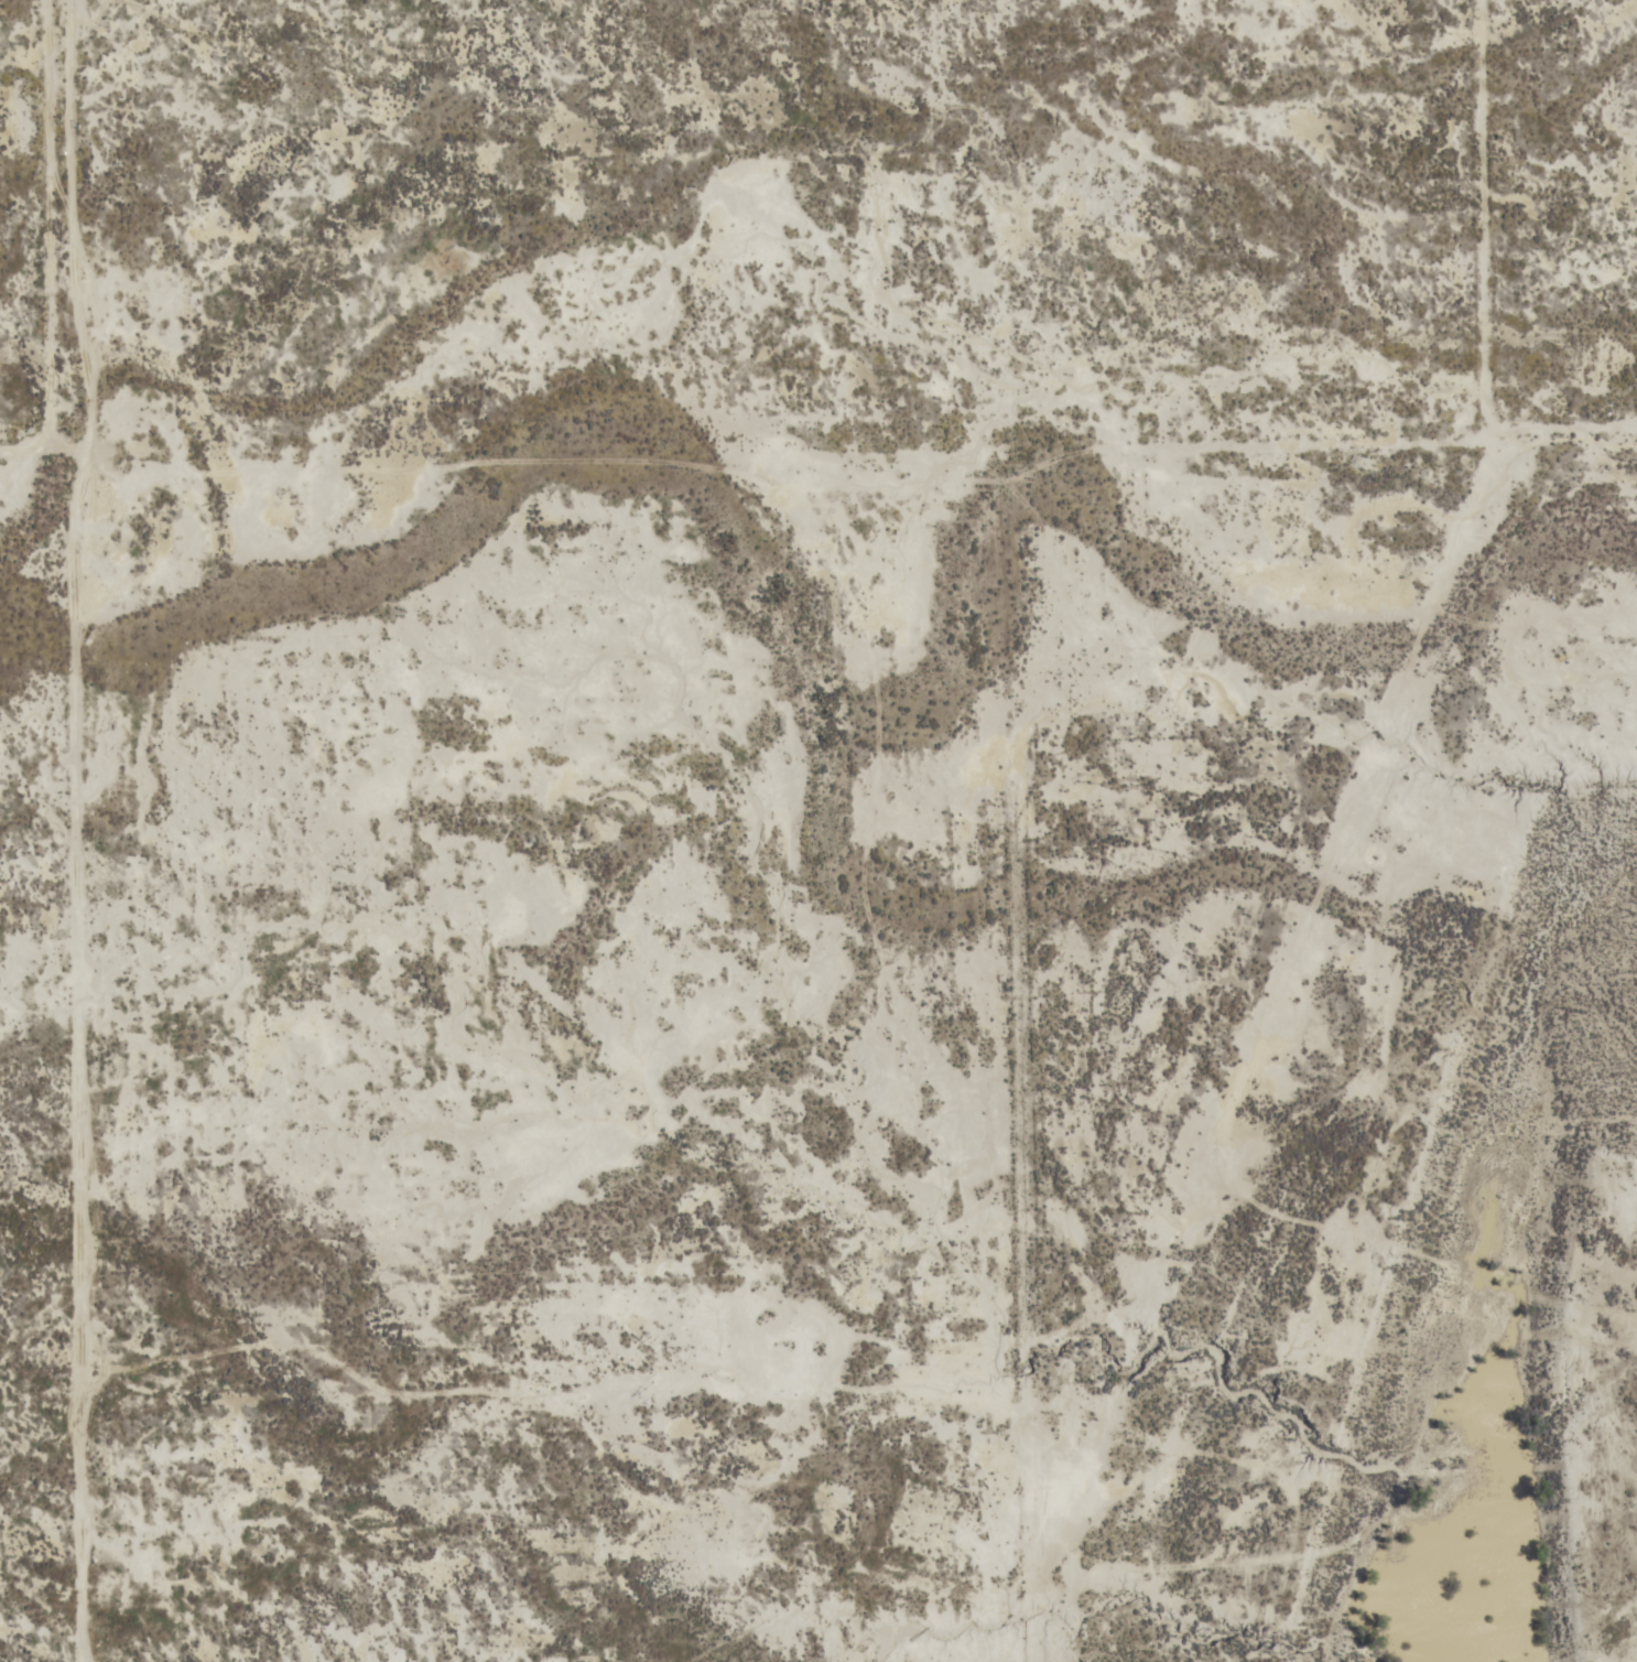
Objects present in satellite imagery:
crop: (45, 233)
road: (36, 439)
road: (69, 829)

